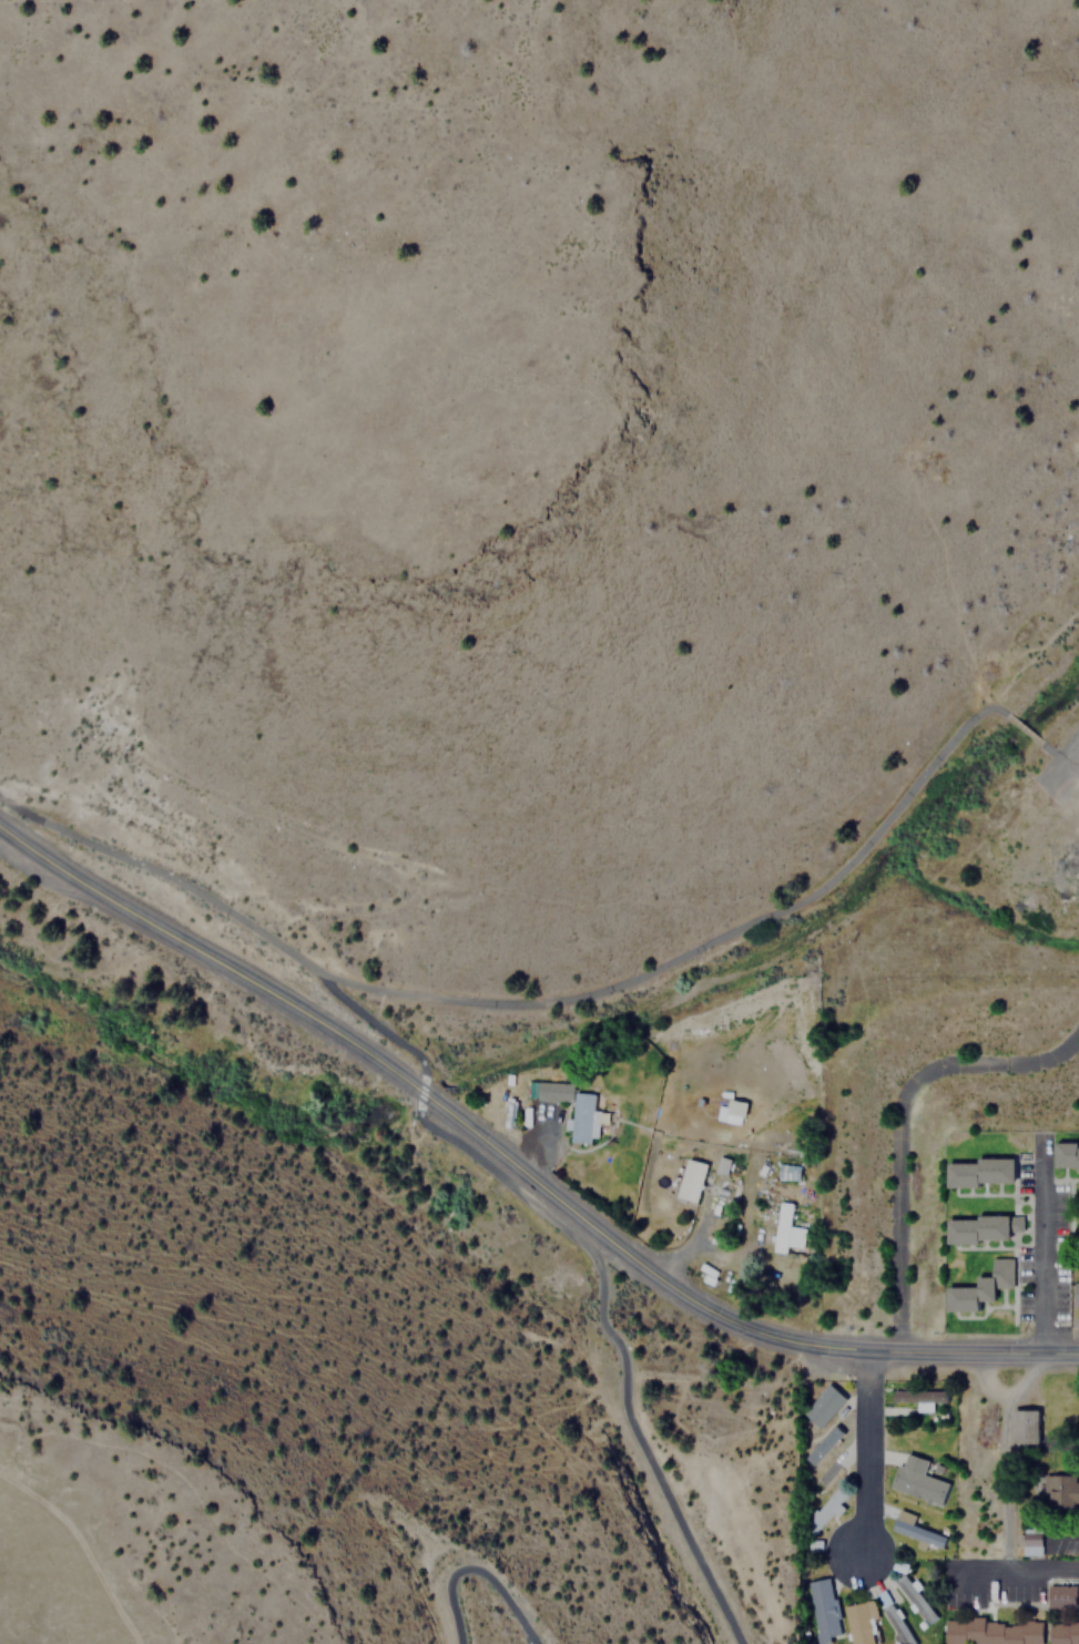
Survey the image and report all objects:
road: (1019, 729)
road: (1056, 749)
road: (531, 1004)
road: (416, 1091)
building: (725, 1114)
building: (580, 1122)
building: (1066, 1155)
building: (722, 1165)
building: (790, 1172)
building: (978, 1172)
building: (690, 1181)
building: (781, 1227)
building: (976, 1229)
road: (1038, 1246)
road: (591, 1255)
building: (979, 1287)
building: (1076, 1295)
road: (955, 1351)
building: (918, 1397)
building: (821, 1407)
building: (1022, 1427)
building: (822, 1444)
road: (863, 1452)
building: (824, 1472)
building: (916, 1480)
building: (1061, 1492)
building: (824, 1510)
building: (914, 1529)
building: (1032, 1540)
road: (474, 1566)
road: (1029, 1573)
building: (1060, 1595)
building: (914, 1599)
building: (821, 1610)
building: (857, 1623)
building: (896, 1624)
building: (989, 1631)
building: (1062, 1633)

